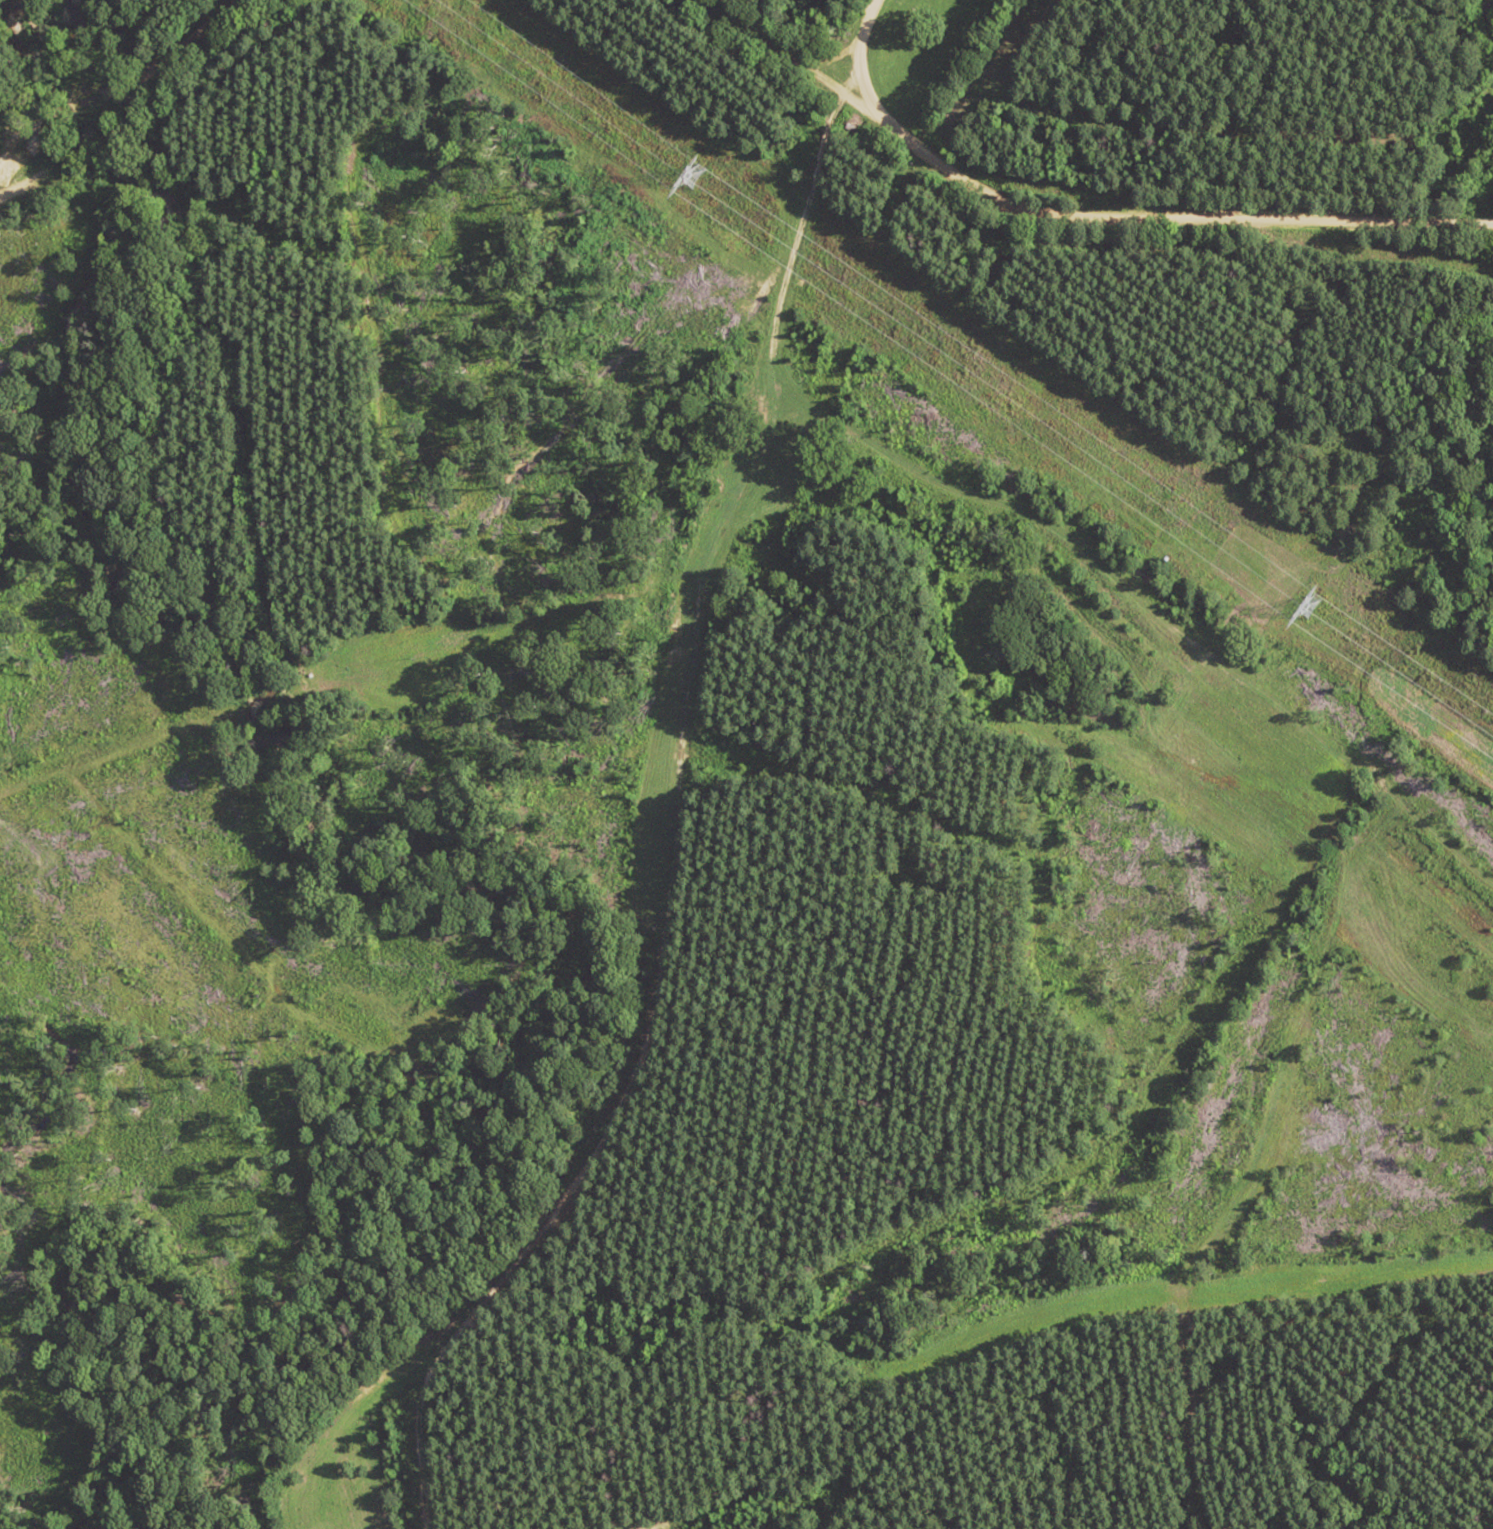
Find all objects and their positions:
road: (719, 49)
road: (812, 49)
road: (115, 106)
road: (774, 142)
power tower: (691, 177)
road: (1128, 201)
power tower: (1304, 607)
road: (591, 905)
road: (668, 1231)

